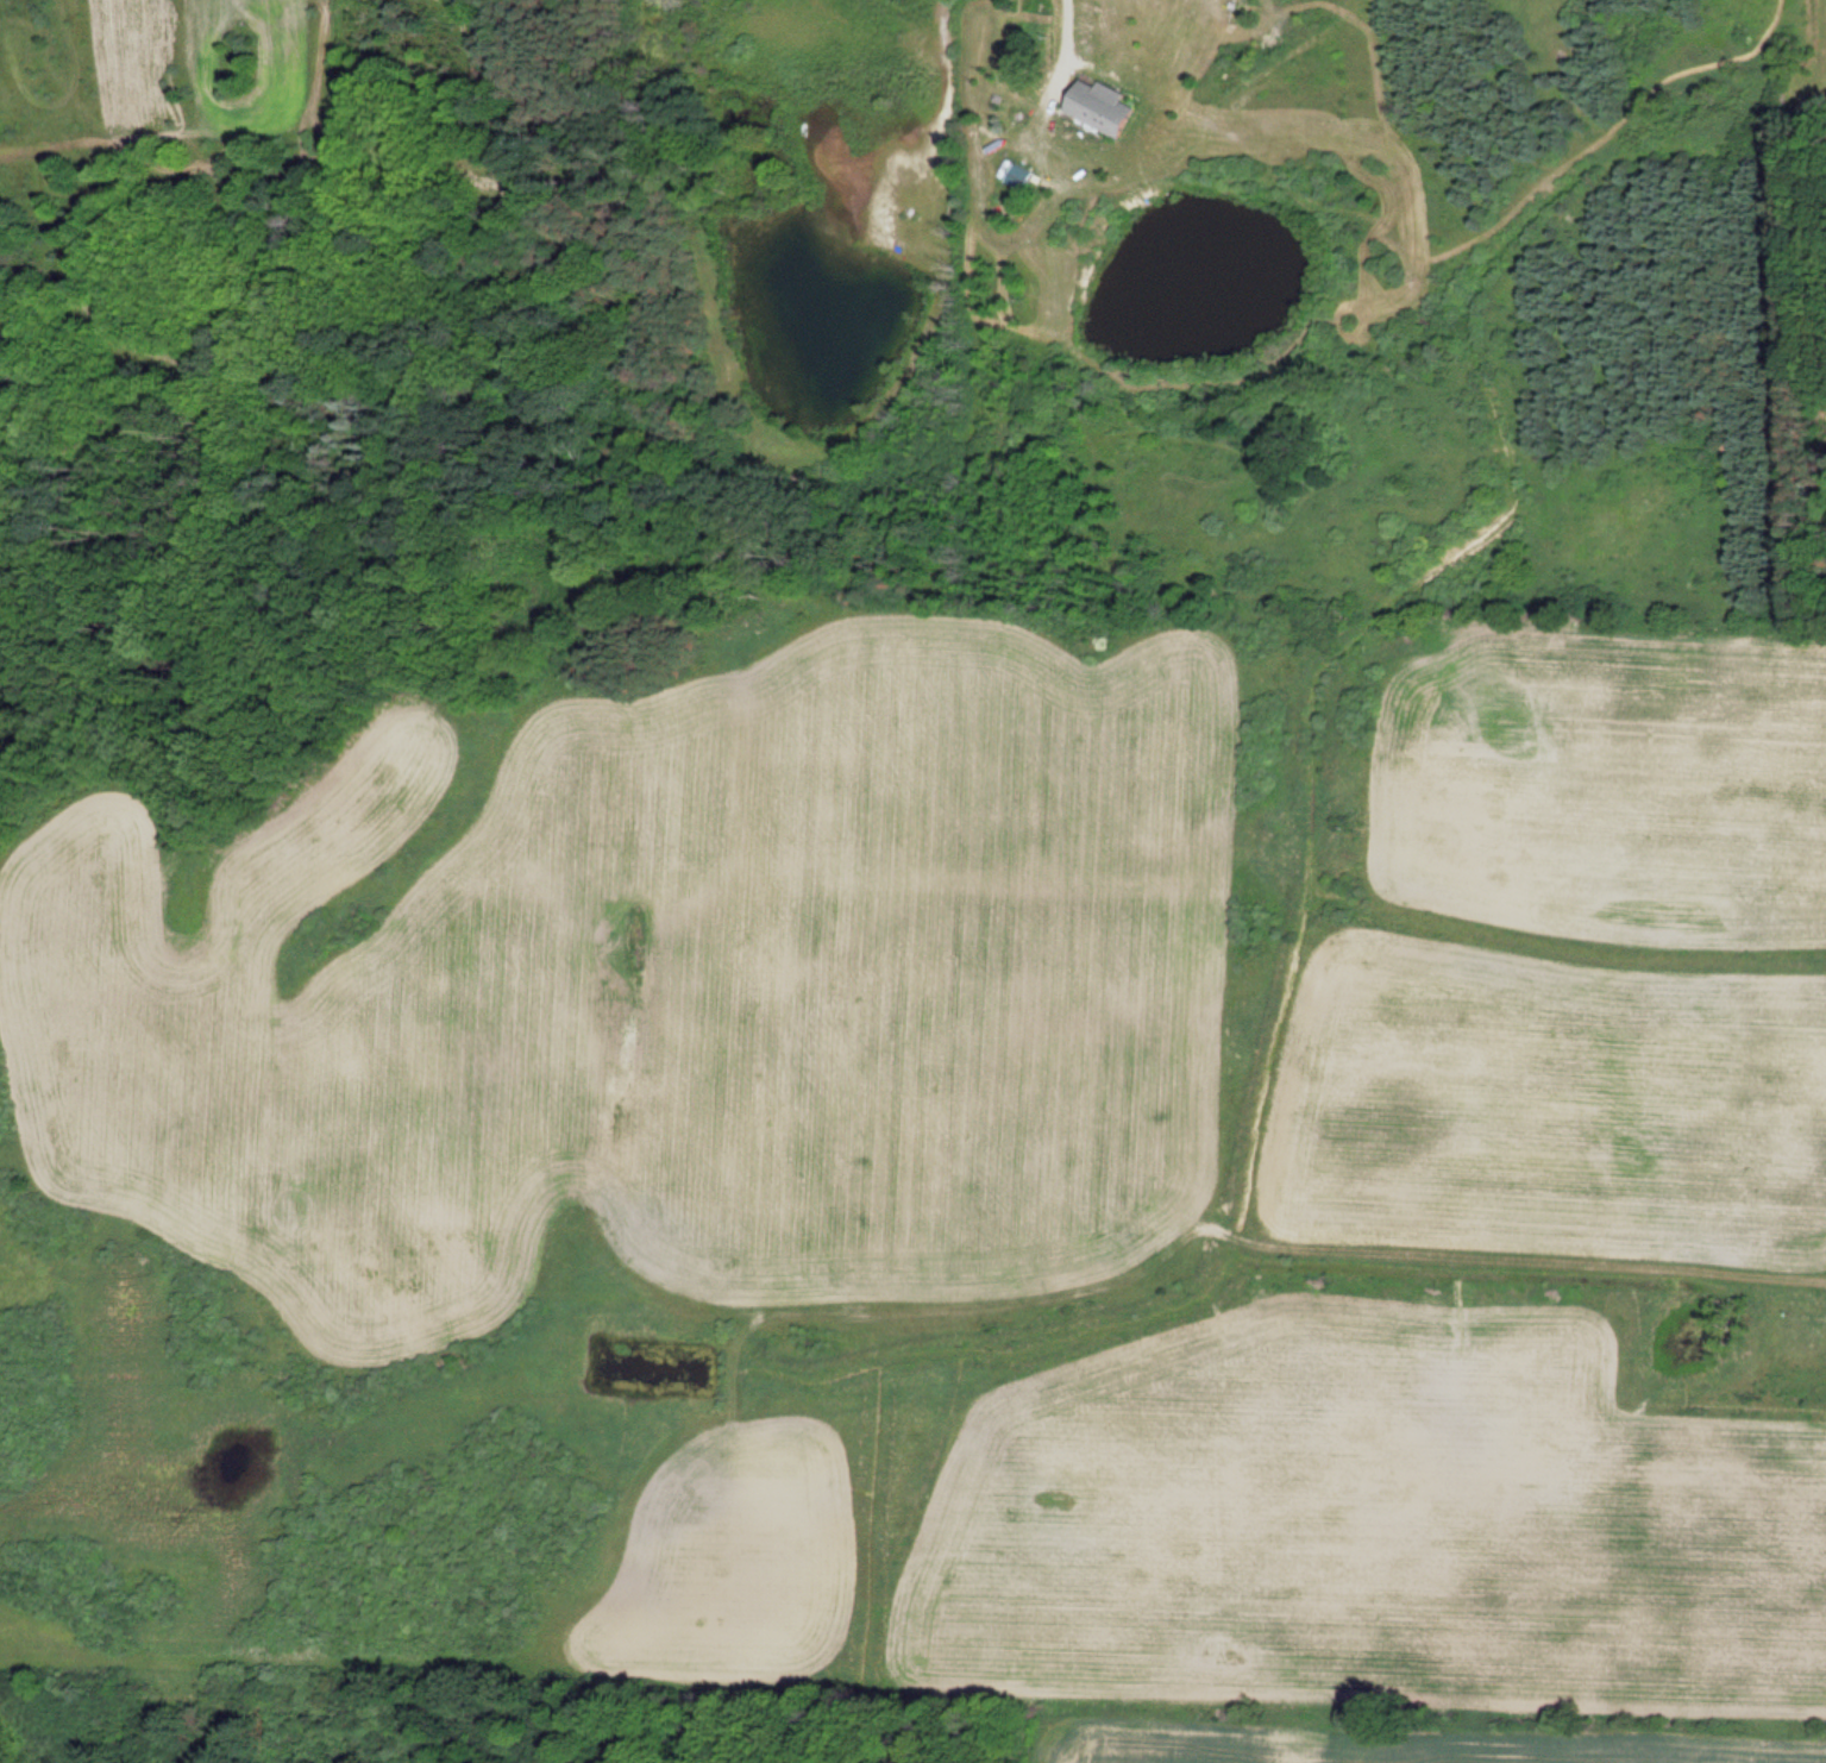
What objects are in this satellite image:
building: (1107, 106)

